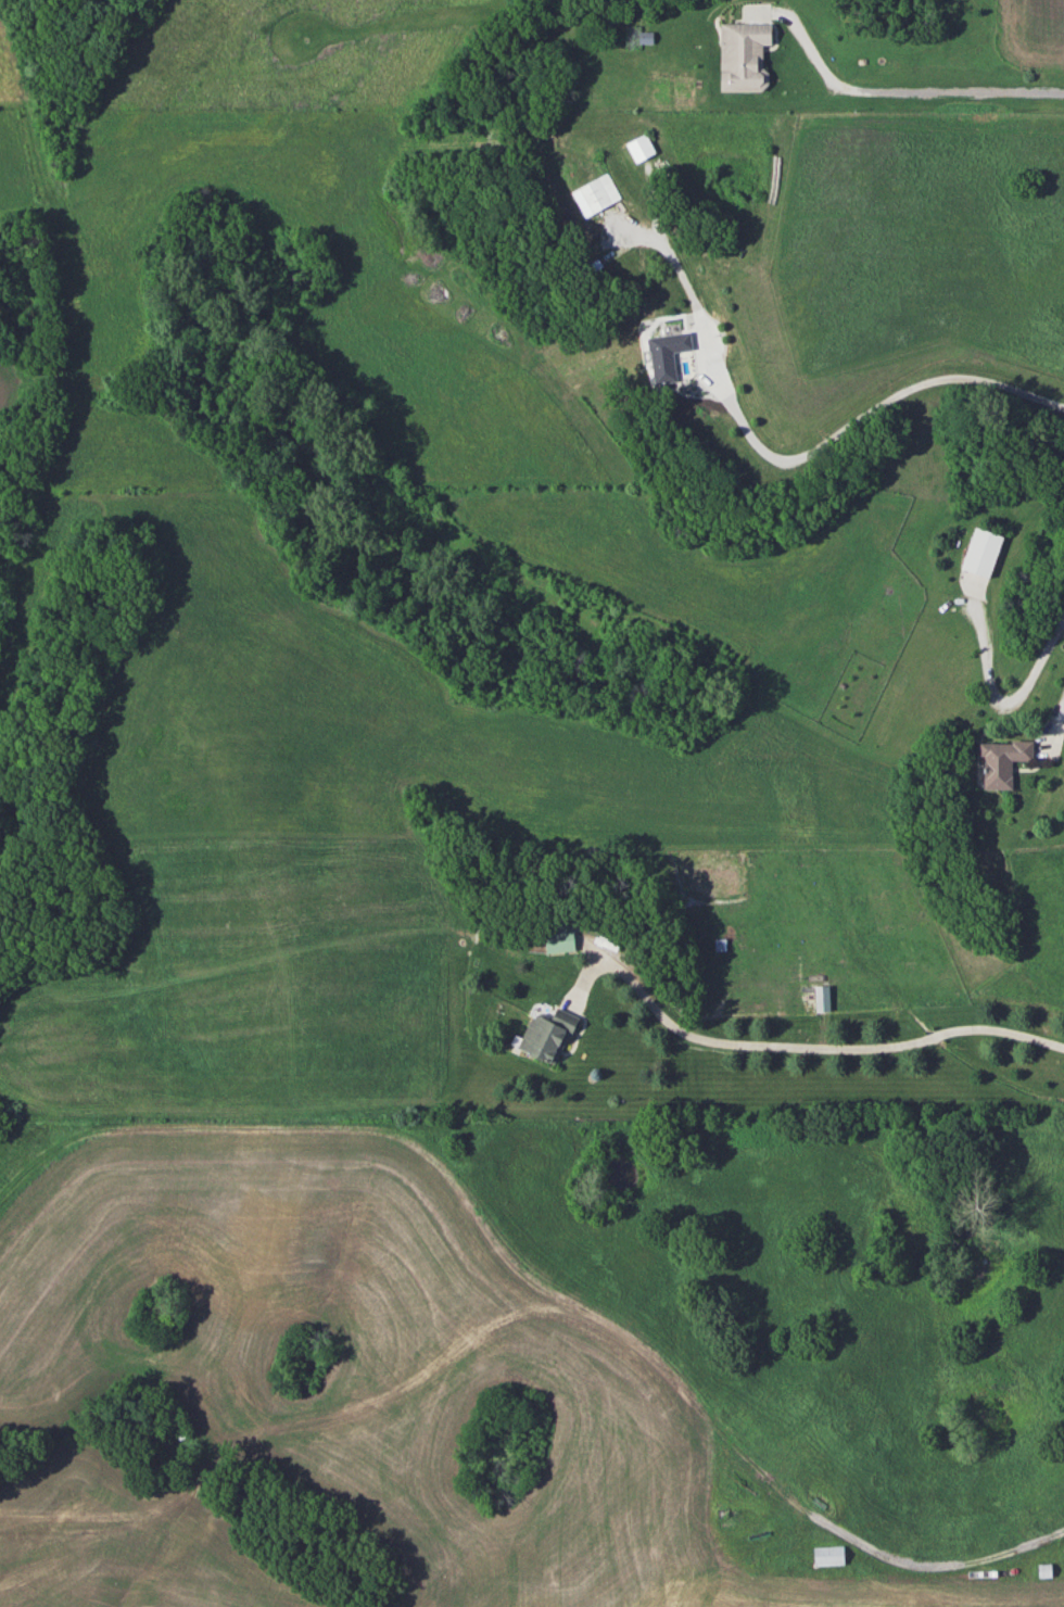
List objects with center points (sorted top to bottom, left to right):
building: (745, 55)
road: (898, 76)
building: (639, 145)
building: (595, 193)
building: (667, 354)
road: (850, 422)
building: (981, 553)
road: (1059, 714)
building: (1002, 762)
building: (558, 938)
building: (821, 998)
building: (545, 1035)
road: (821, 1048)
building: (827, 1555)
road: (922, 1565)

